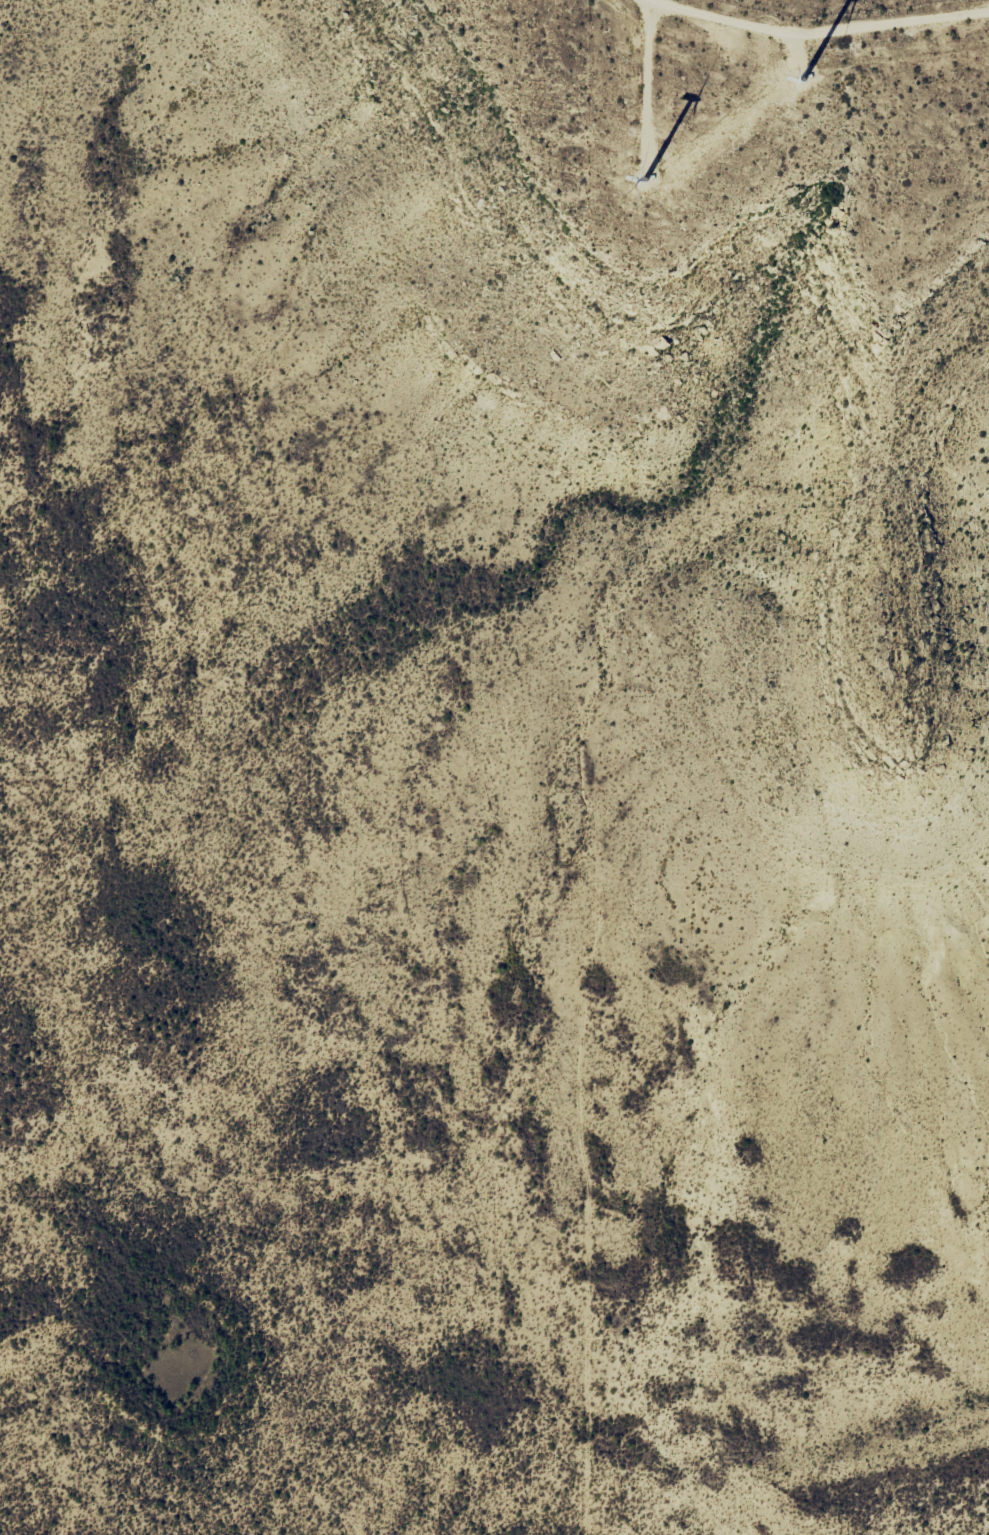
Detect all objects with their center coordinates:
wind turbine: (787, 81)
wind turbine: (630, 184)

